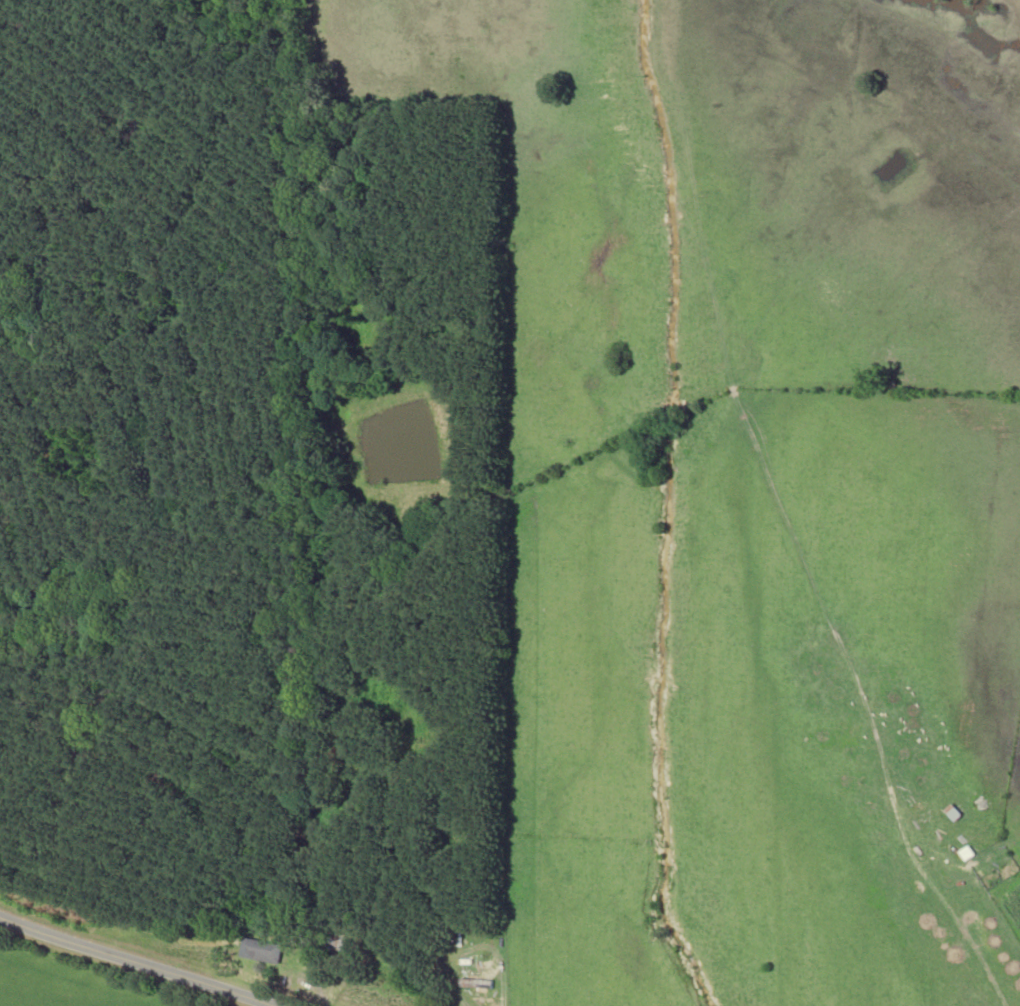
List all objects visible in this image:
building: (434, 733)
building: (952, 812)
building: (334, 942)
building: (259, 950)
road: (130, 965)
building: (475, 984)

